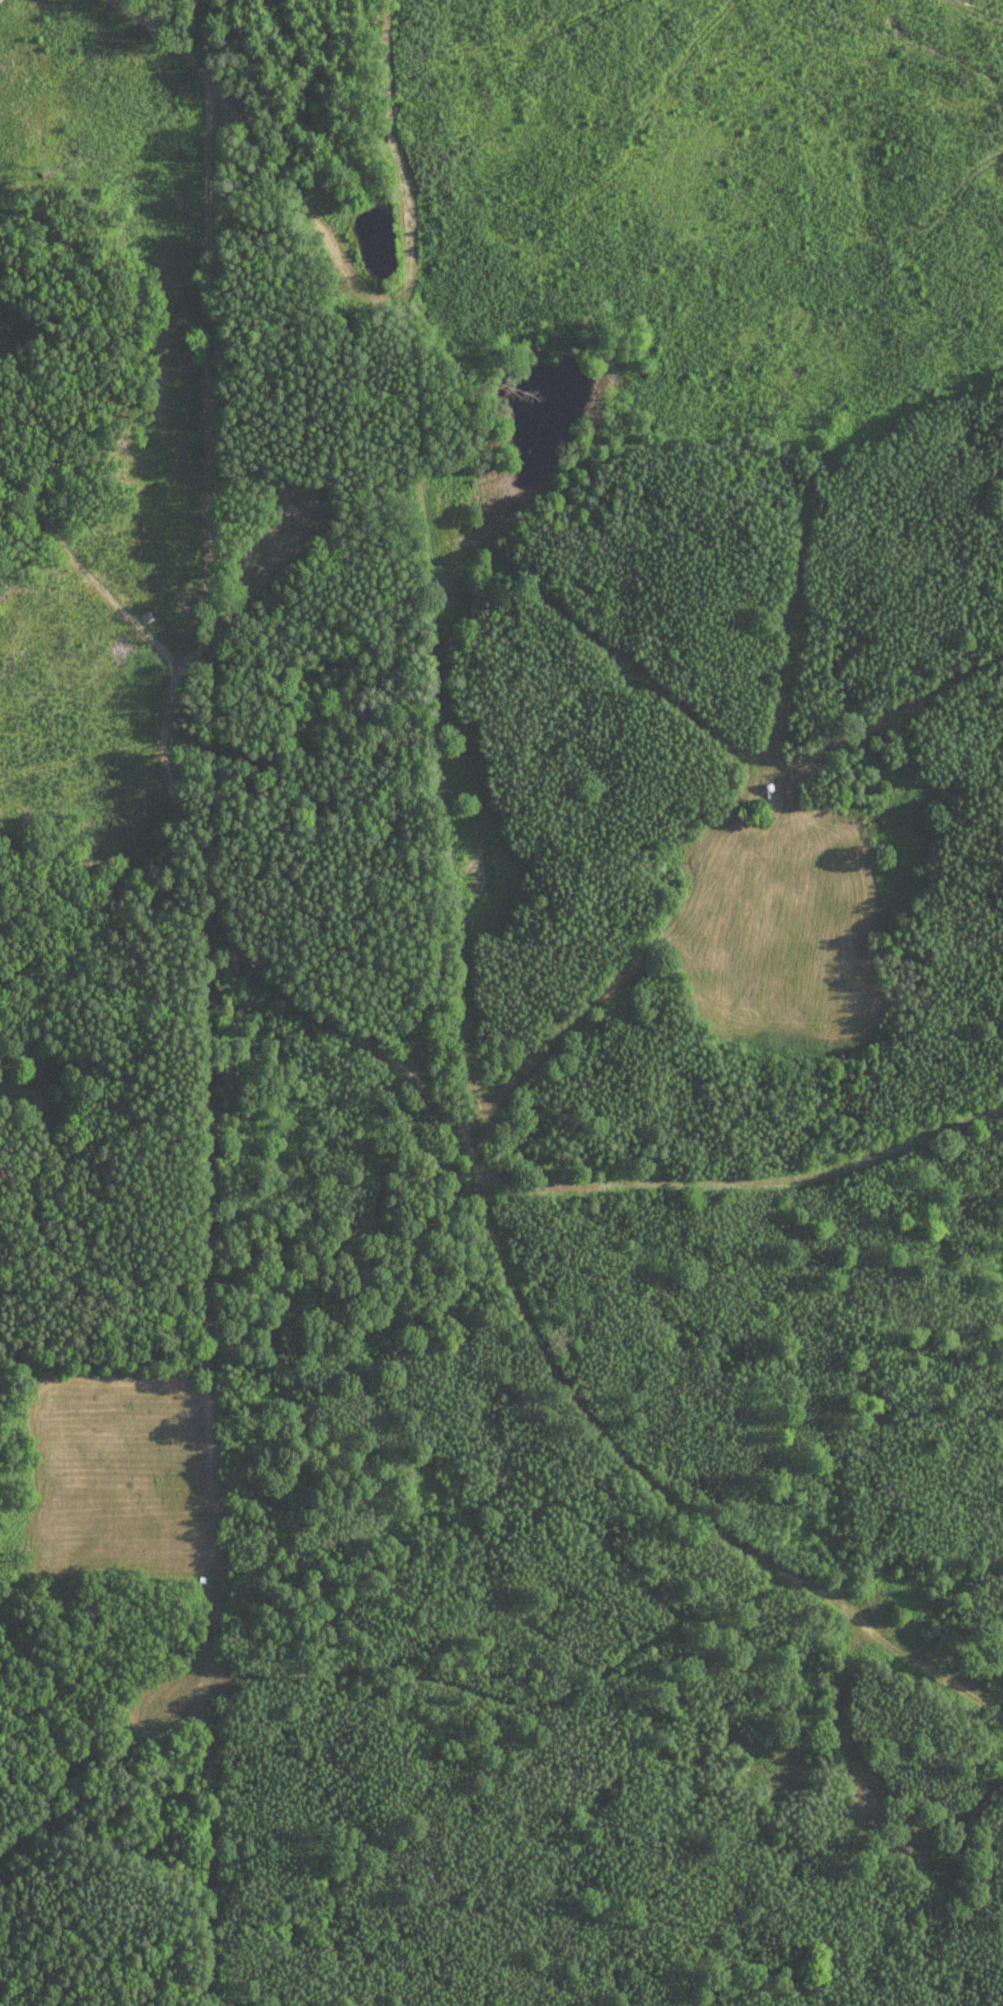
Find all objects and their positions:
road: (392, 142)
road: (265, 155)
road: (180, 842)
road: (594, 1424)
road: (903, 1655)
road: (990, 1707)

